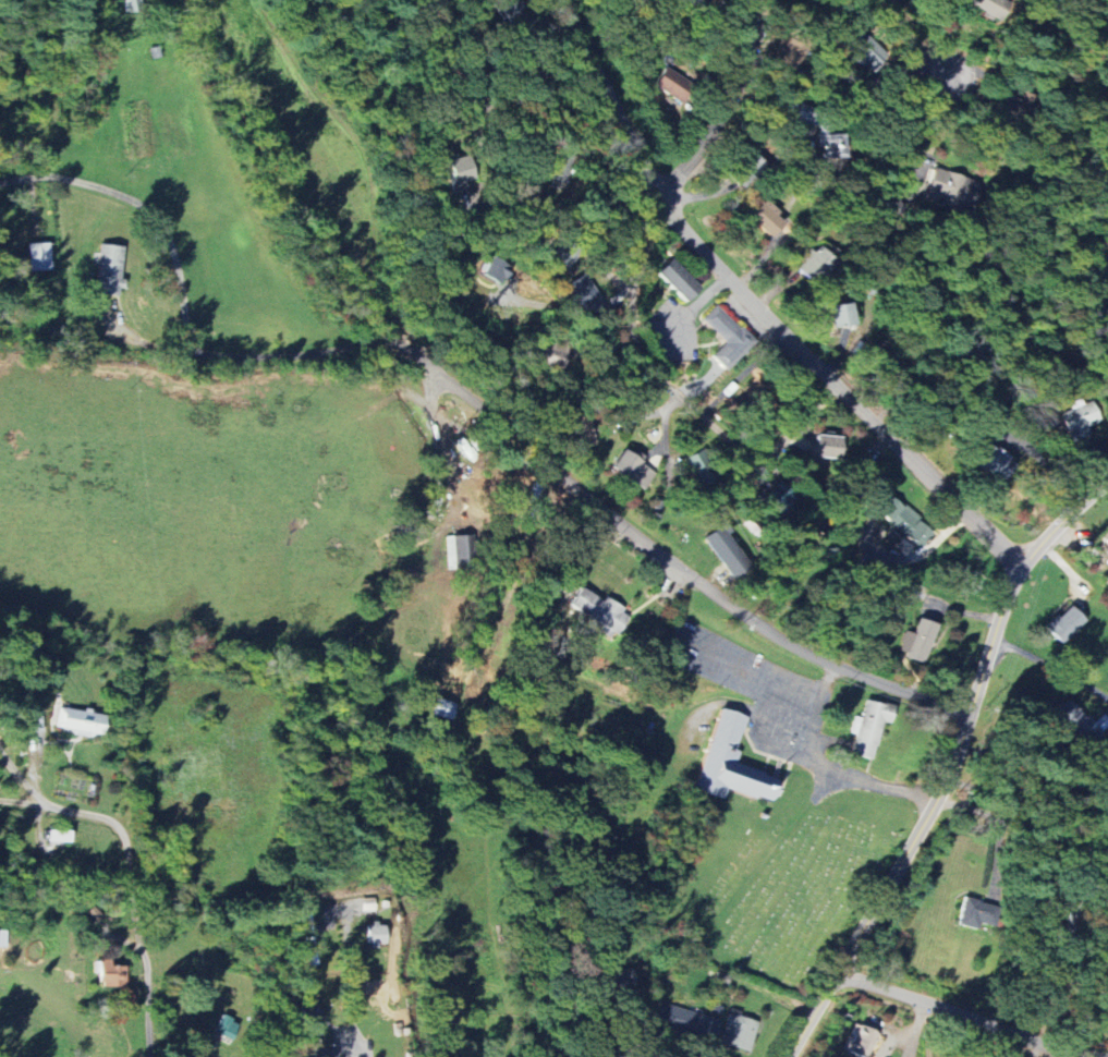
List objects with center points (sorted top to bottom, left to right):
building: (135, 1)
building: (509, 7)
building: (988, 7)
road: (920, 42)
building: (788, 52)
building: (864, 52)
building: (672, 85)
road: (722, 107)
building: (802, 114)
road: (915, 116)
building: (830, 142)
building: (458, 169)
building: (948, 189)
road: (558, 207)
building: (765, 218)
building: (38, 256)
building: (813, 263)
building: (110, 270)
building: (495, 270)
building: (678, 280)
building: (584, 293)
road: (757, 308)
building: (1107, 313)
building: (839, 315)
road: (565, 324)
building: (728, 337)
road: (678, 392)
road: (465, 394)
building: (1080, 421)
building: (584, 432)
building: (828, 447)
building: (993, 461)
road: (1042, 463)
building: (702, 469)
building: (635, 471)
building: (779, 499)
building: (904, 521)
building: (1106, 542)
building: (729, 551)
building: (600, 612)
building: (1067, 624)
building: (918, 641)
road: (1050, 665)
road: (733, 682)
building: (441, 708)
building: (81, 720)
building: (1080, 721)
building: (869, 728)
building: (726, 760)
road: (951, 764)
road: (22, 776)
road: (22, 800)
road: (996, 824)
building: (60, 836)
park: (790, 894)
road: (131, 901)
building: (975, 913)
building: (376, 935)
building: (2, 938)
building: (308, 938)
building: (112, 974)
building: (617, 980)
road: (348, 1013)
road: (971, 1016)
building: (314, 1017)
building: (686, 1022)
building: (228, 1028)
road: (916, 1029)
building: (739, 1032)
building: (862, 1041)
building: (326, 1053)
road: (637, 1053)

